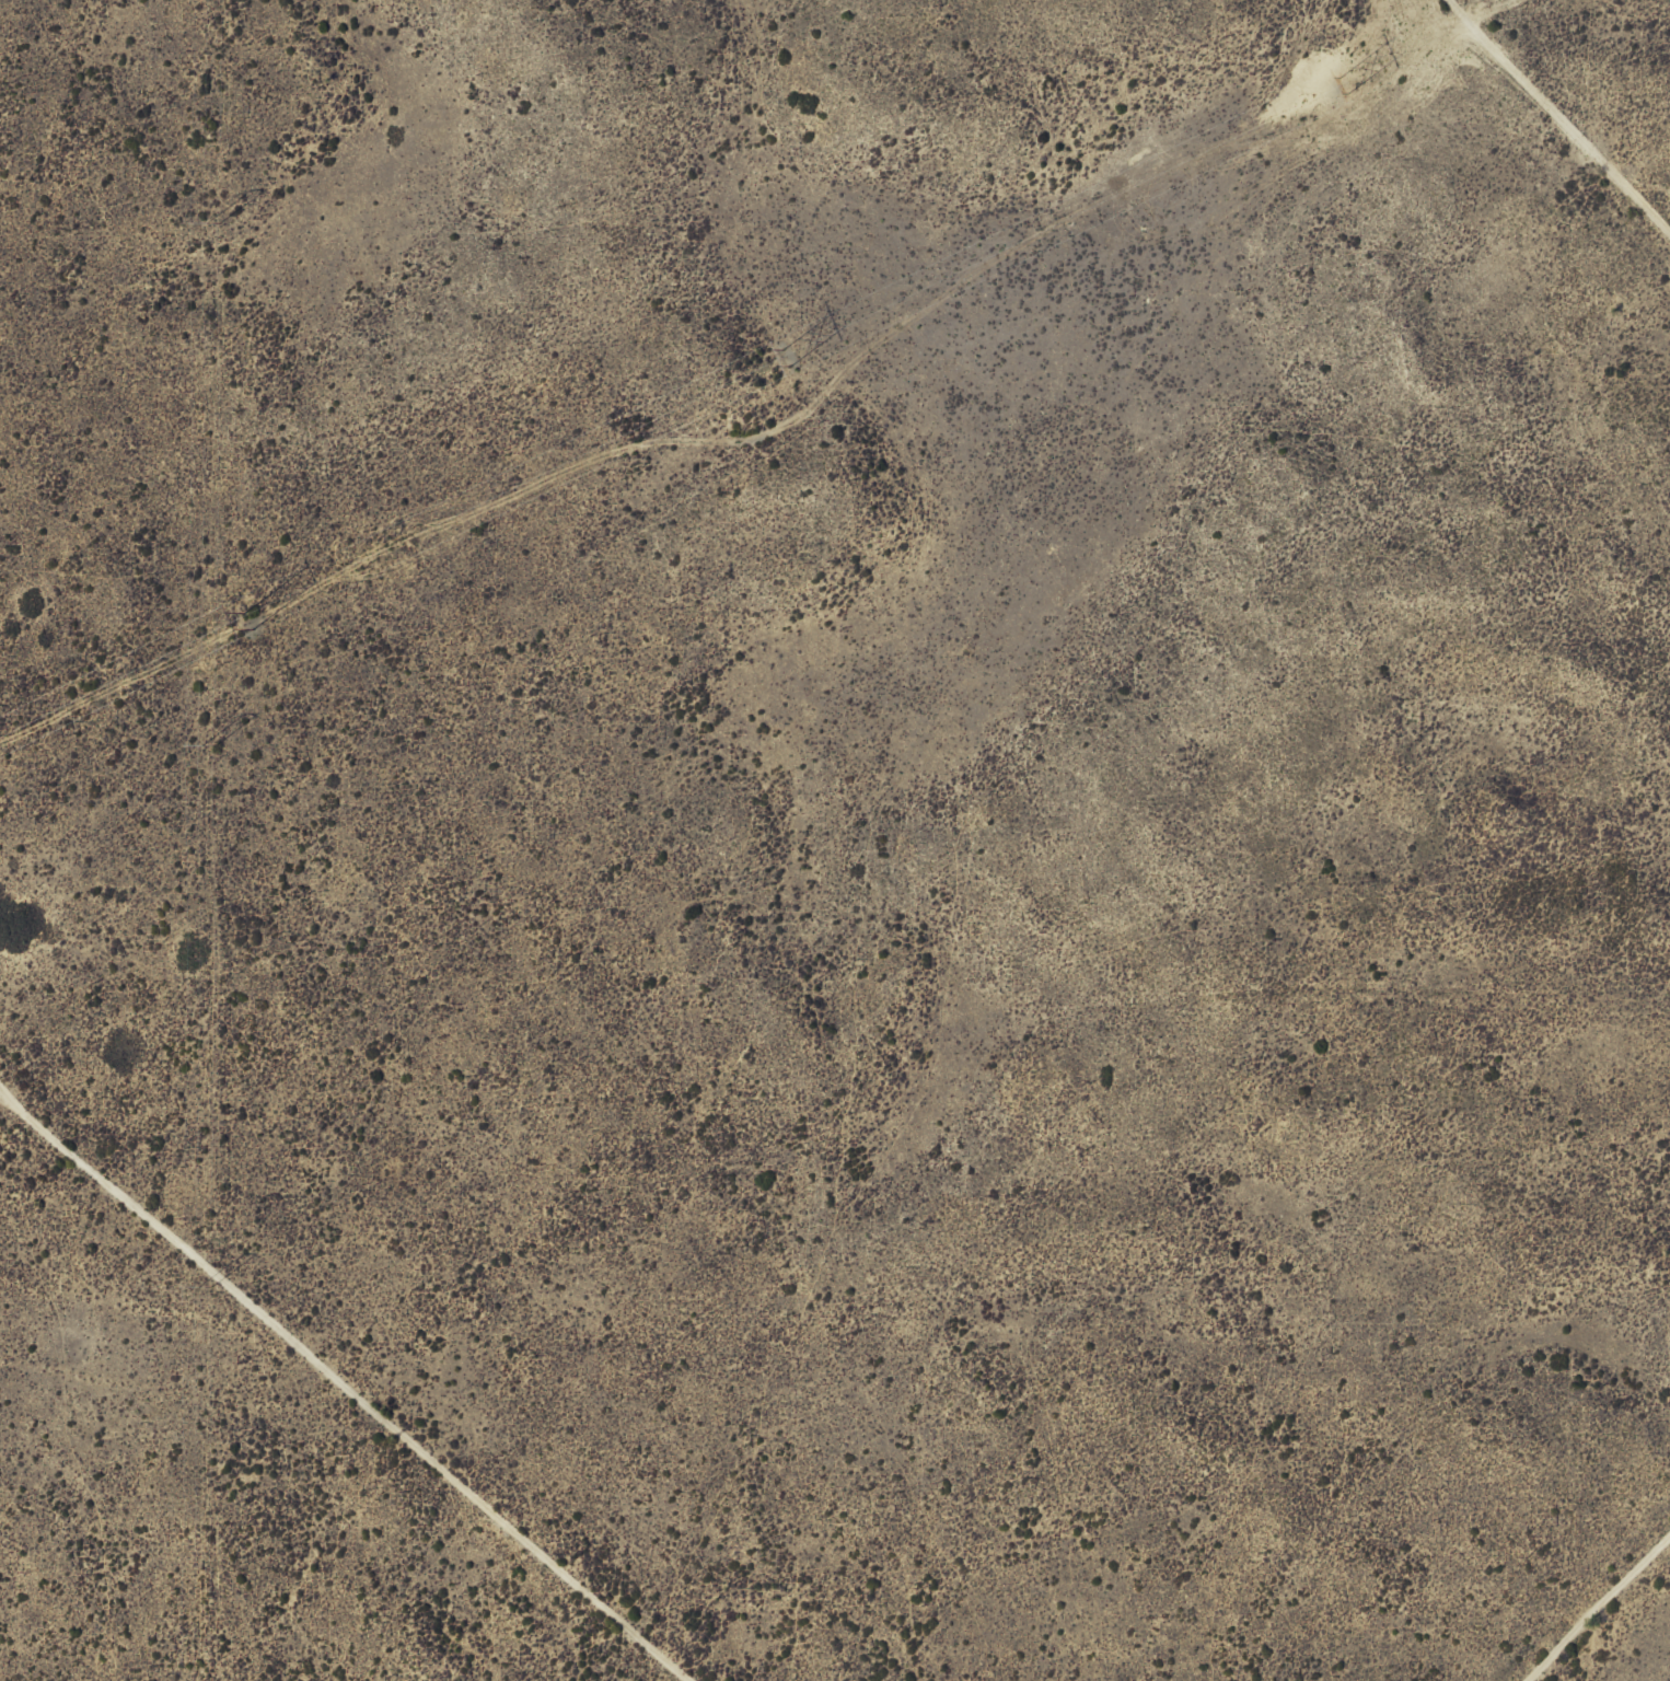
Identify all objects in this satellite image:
power tower: (1333, 86)
power tower: (210, 222)
power tower: (785, 357)
power tower: (247, 617)
power tower: (208, 745)
power tower: (202, 1287)

